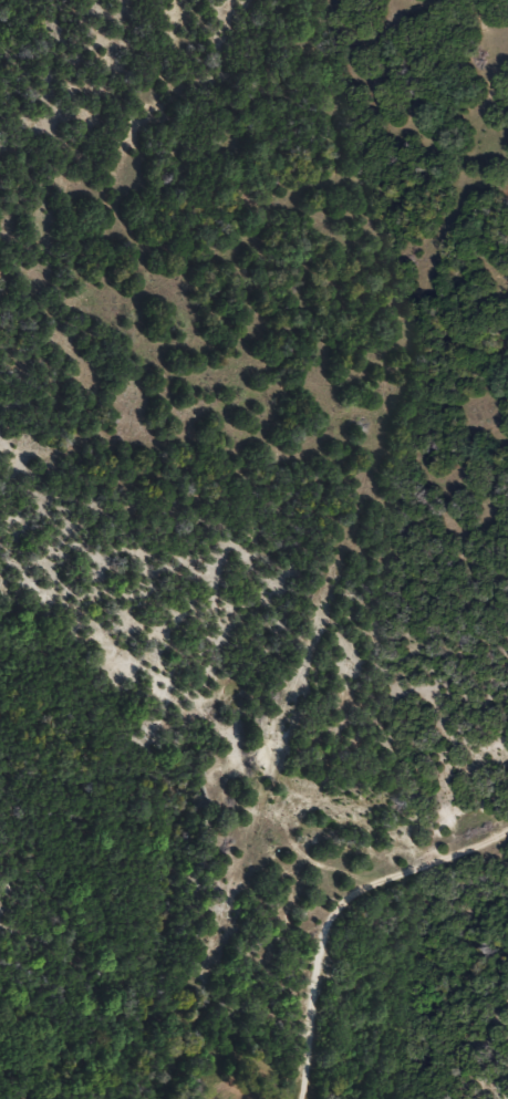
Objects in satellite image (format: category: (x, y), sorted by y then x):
road: (375, 952)

